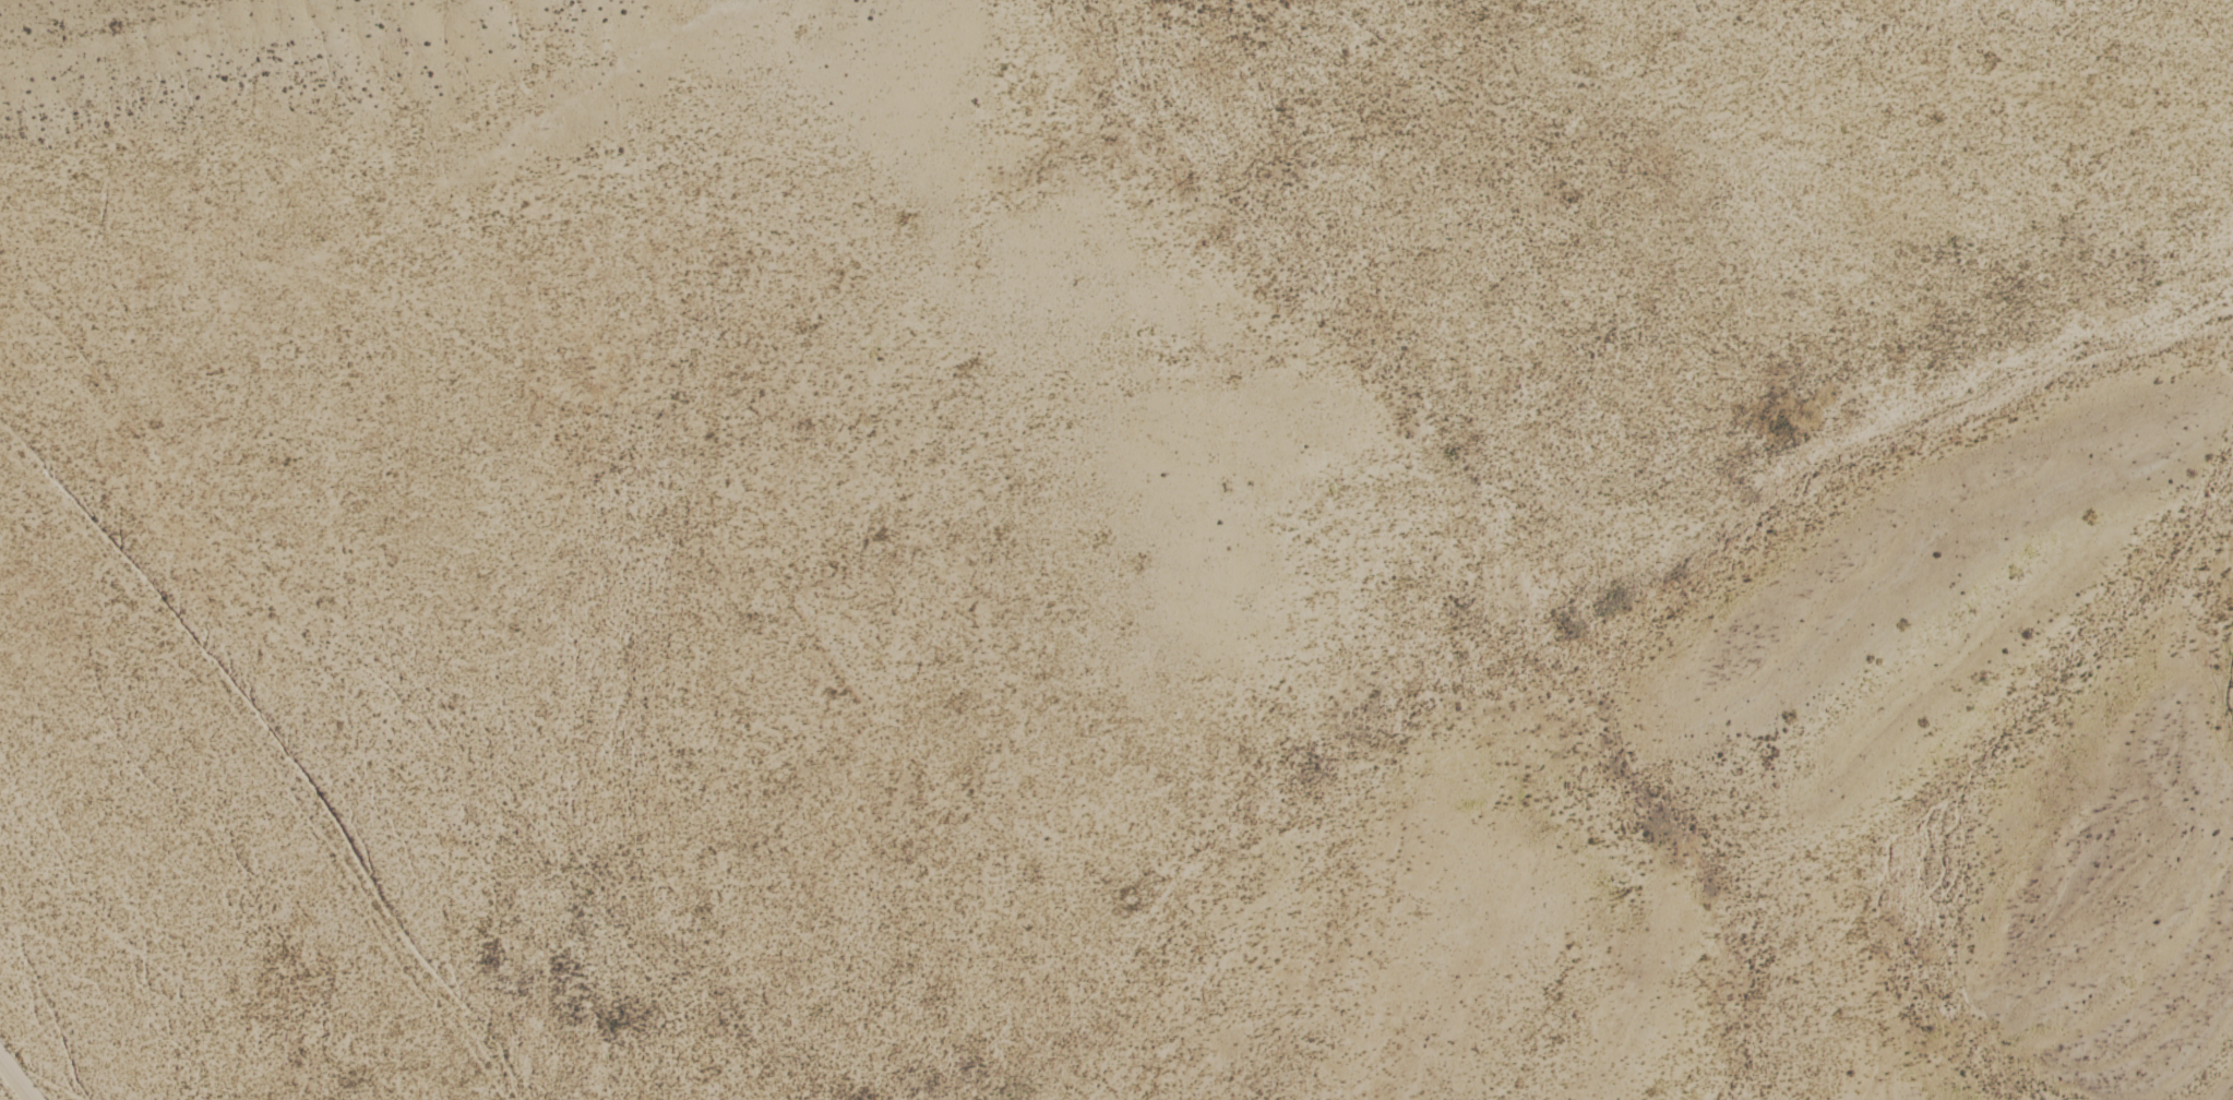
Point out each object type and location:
road: (15, 1079)

